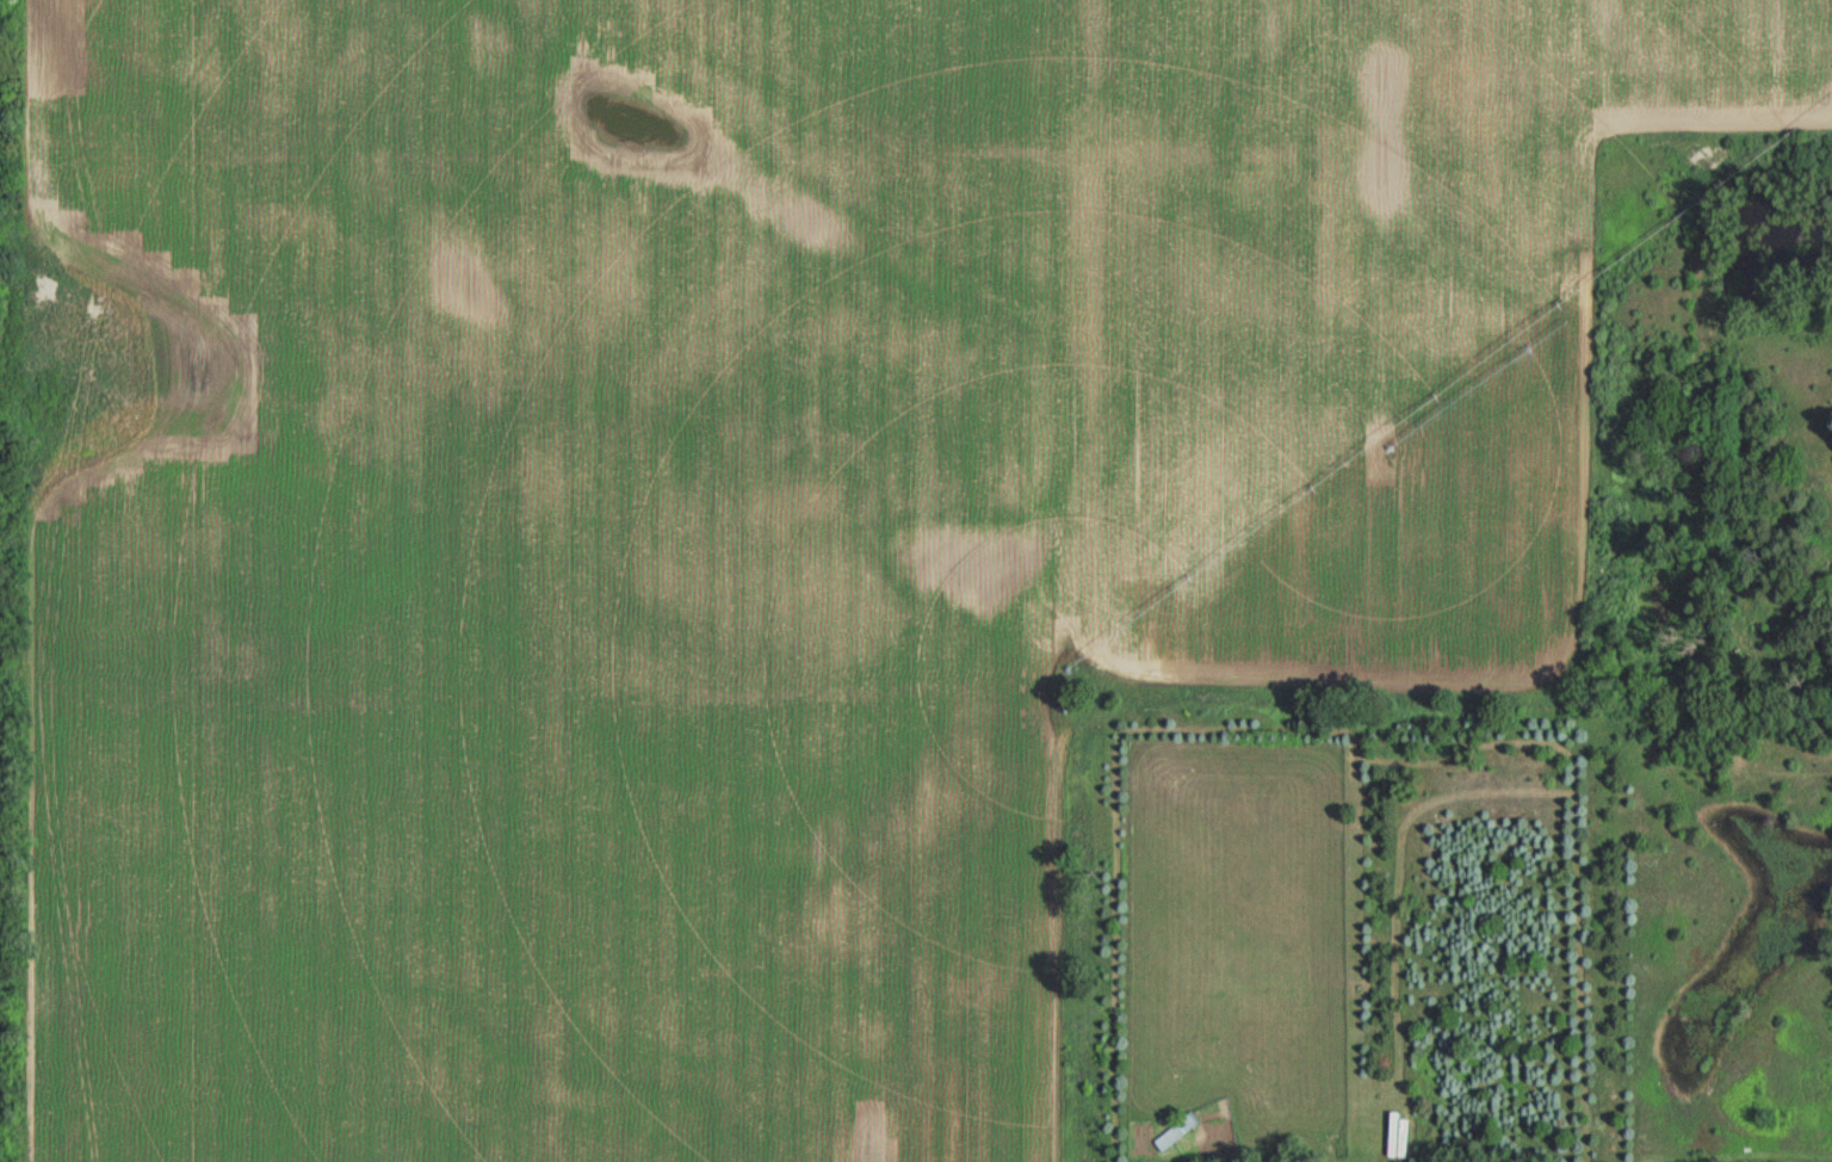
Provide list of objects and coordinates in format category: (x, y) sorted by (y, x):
building: (1176, 1131)

